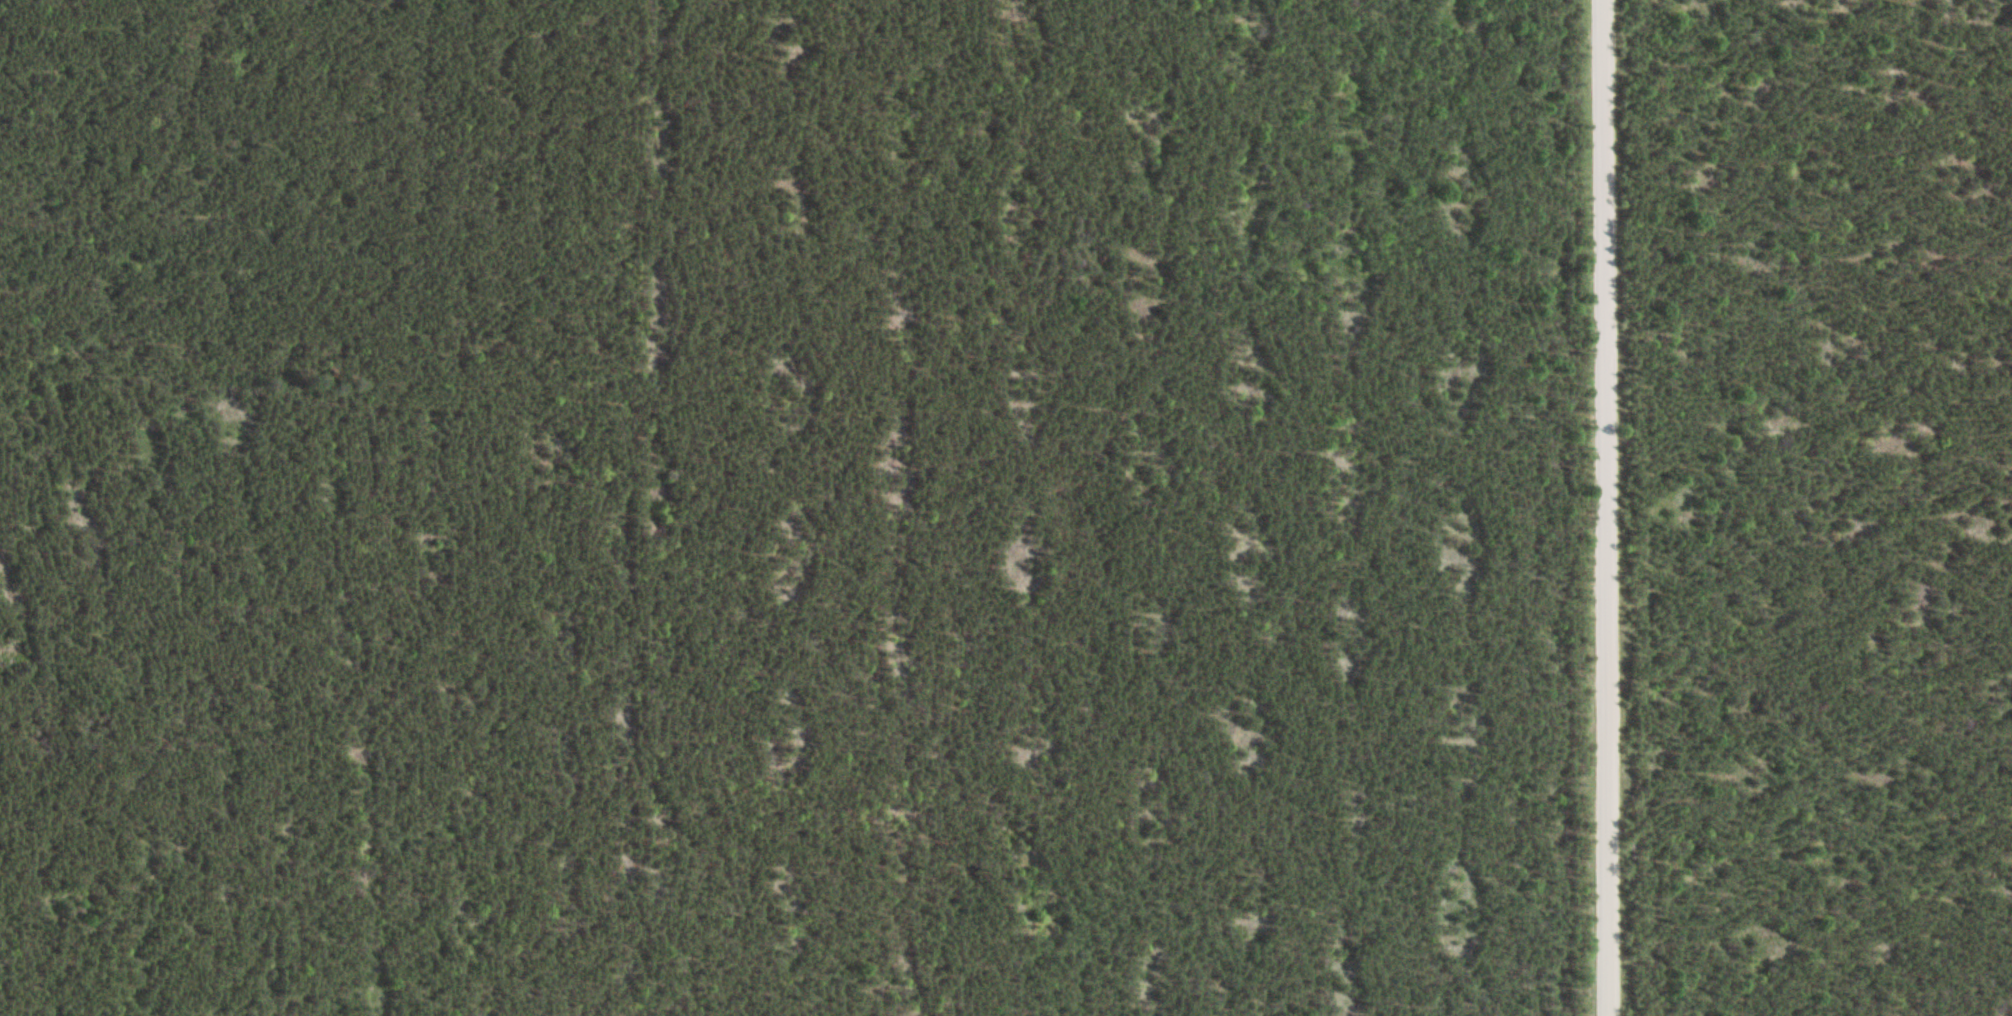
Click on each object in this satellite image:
road: (1606, 508)

